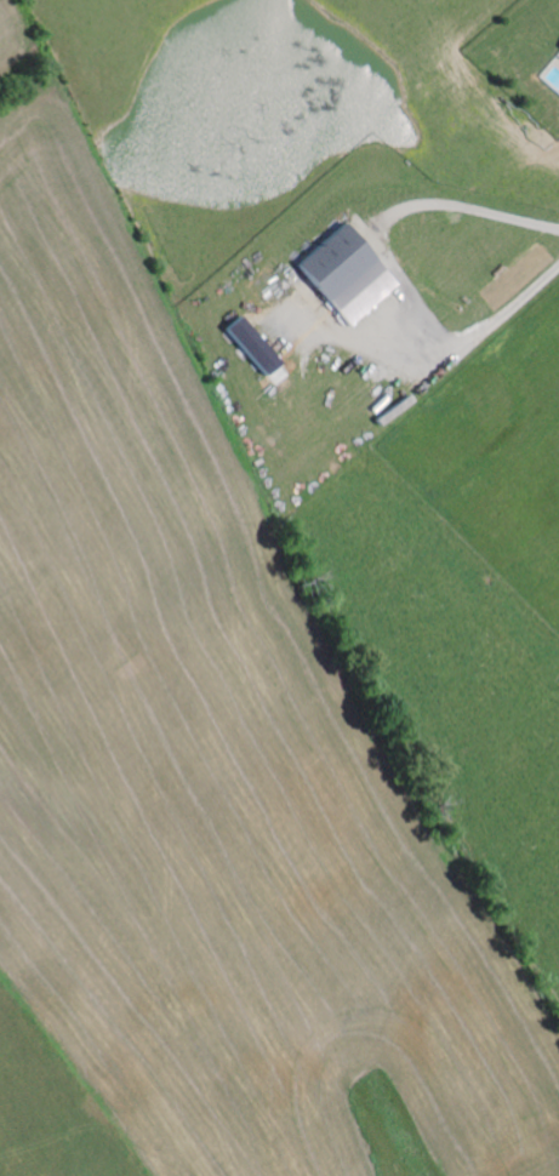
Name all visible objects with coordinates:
building: (344, 273)
building: (250, 344)

